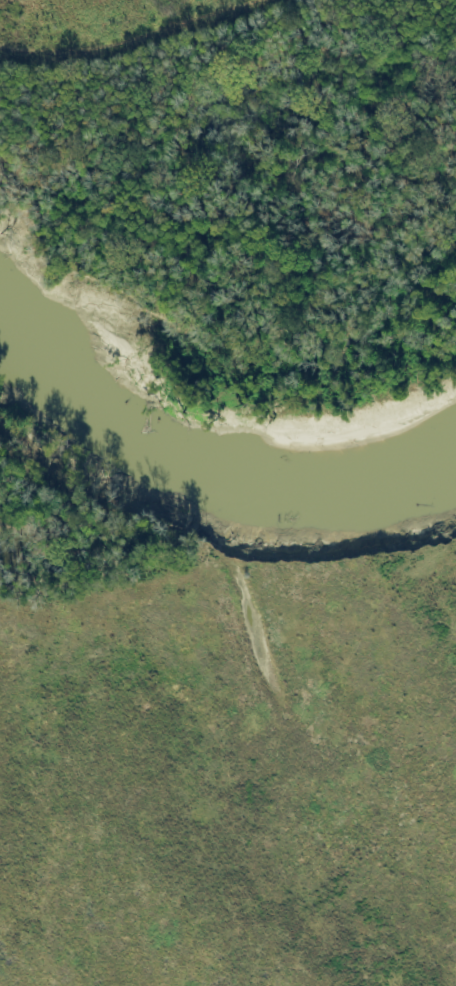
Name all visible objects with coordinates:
river: (209, 456)

